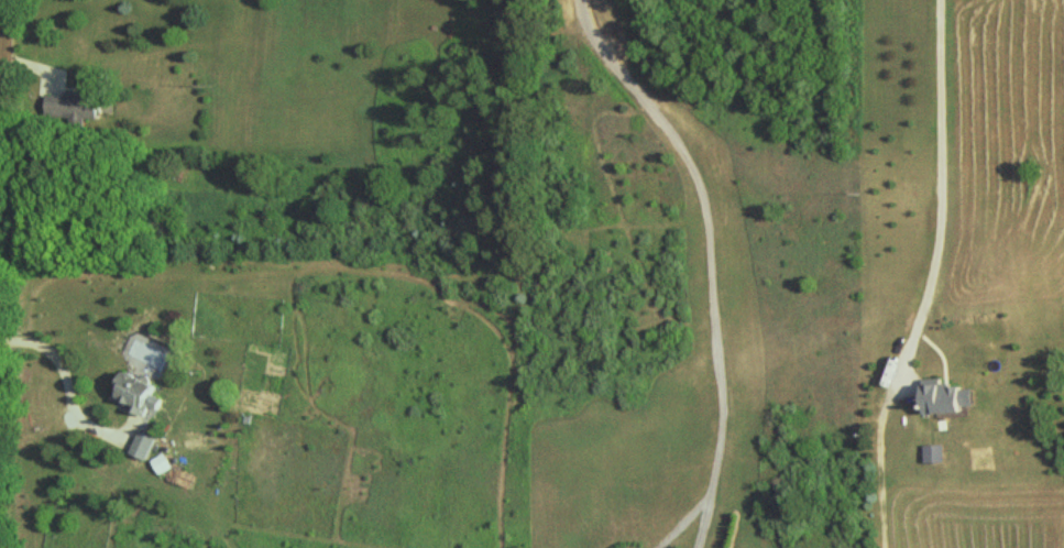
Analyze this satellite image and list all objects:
building: (79, 106)
road: (710, 228)
road: (932, 277)
road: (74, 383)
building: (144, 393)
building: (948, 397)
building: (151, 446)
building: (936, 453)
road: (682, 520)
road: (703, 520)

